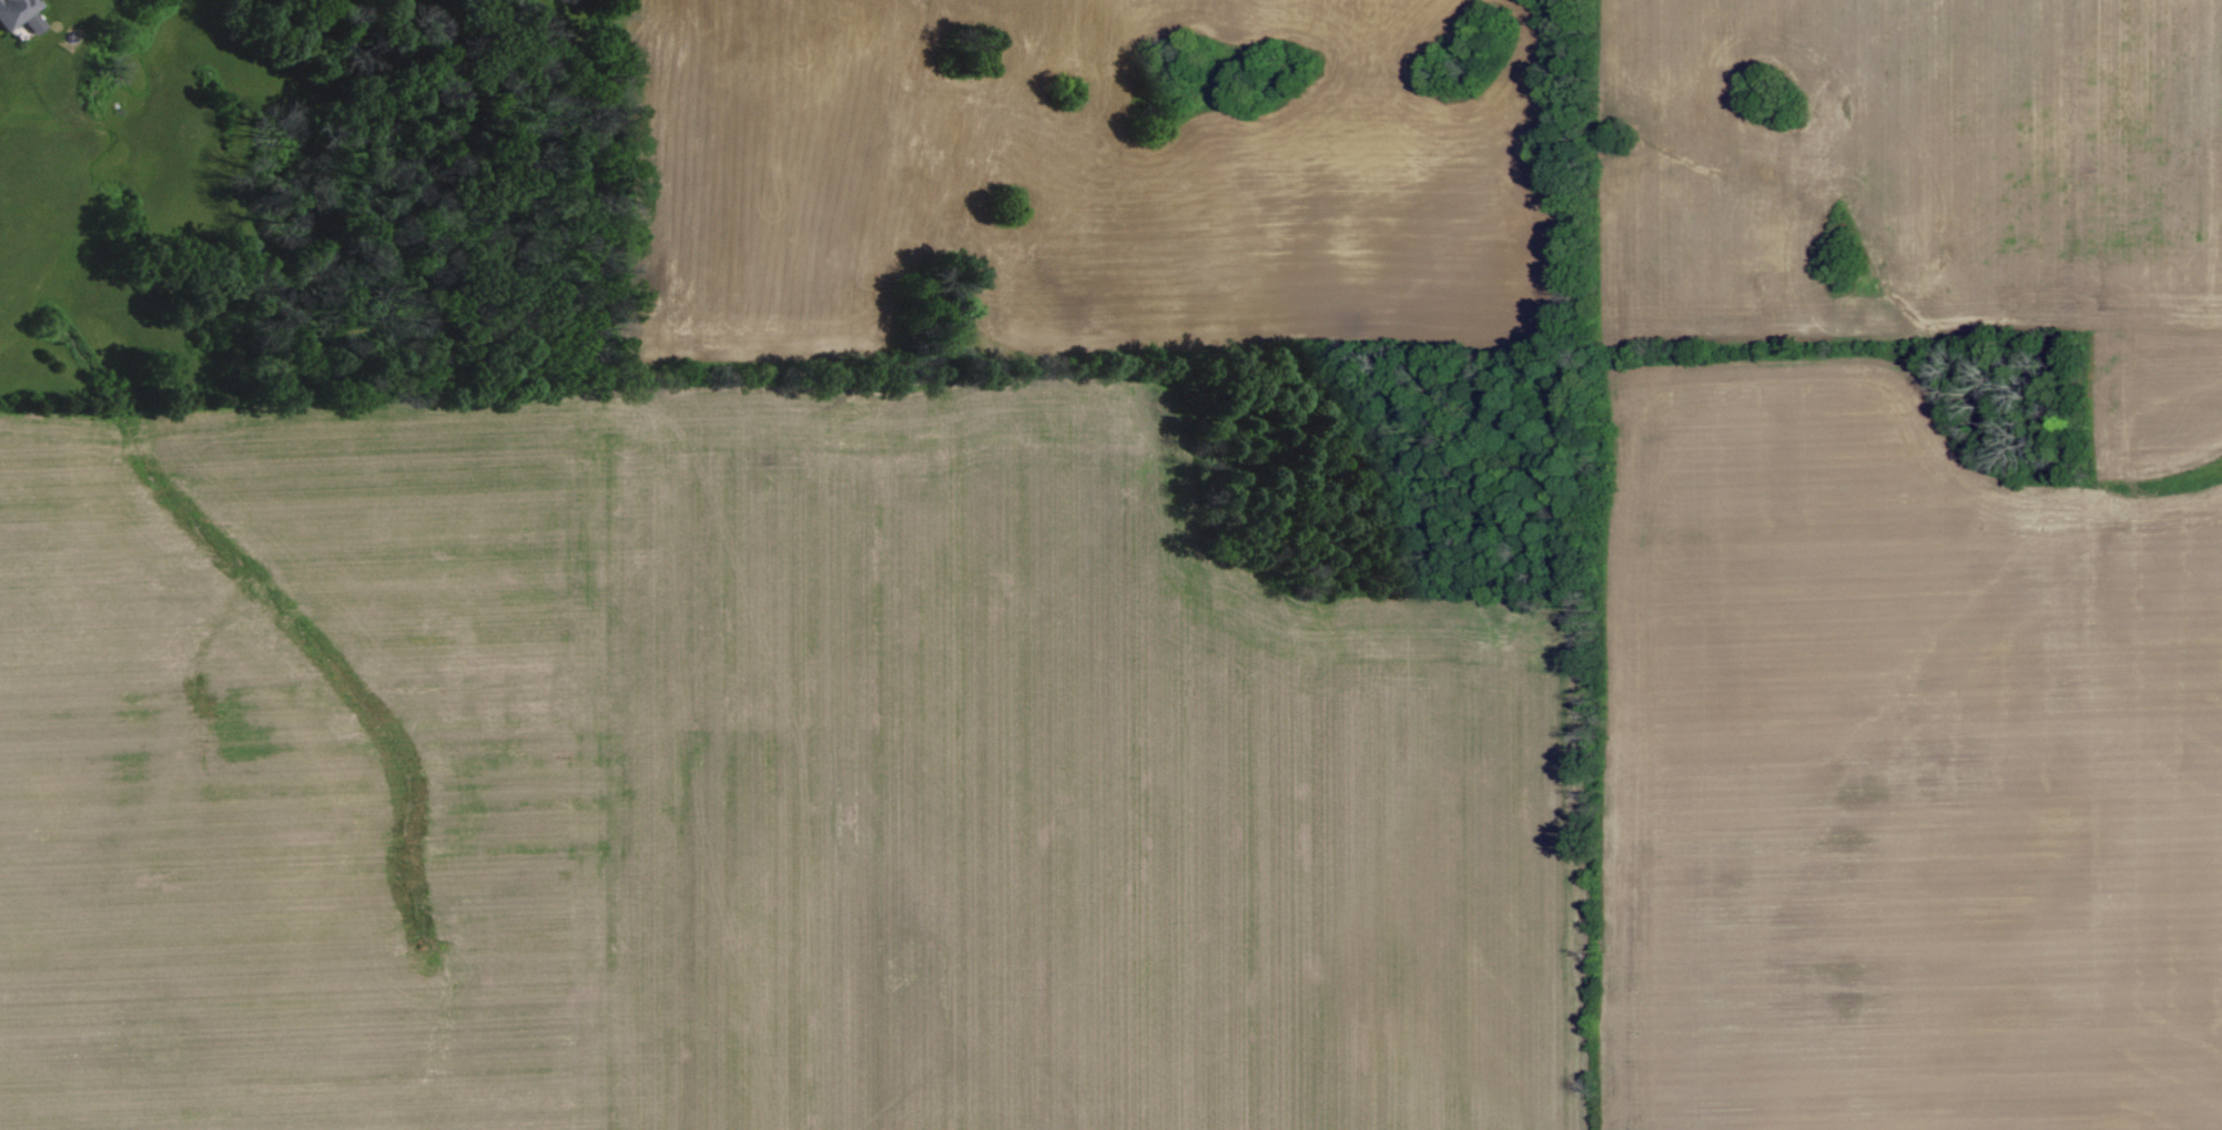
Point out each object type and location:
building: (19, 13)

